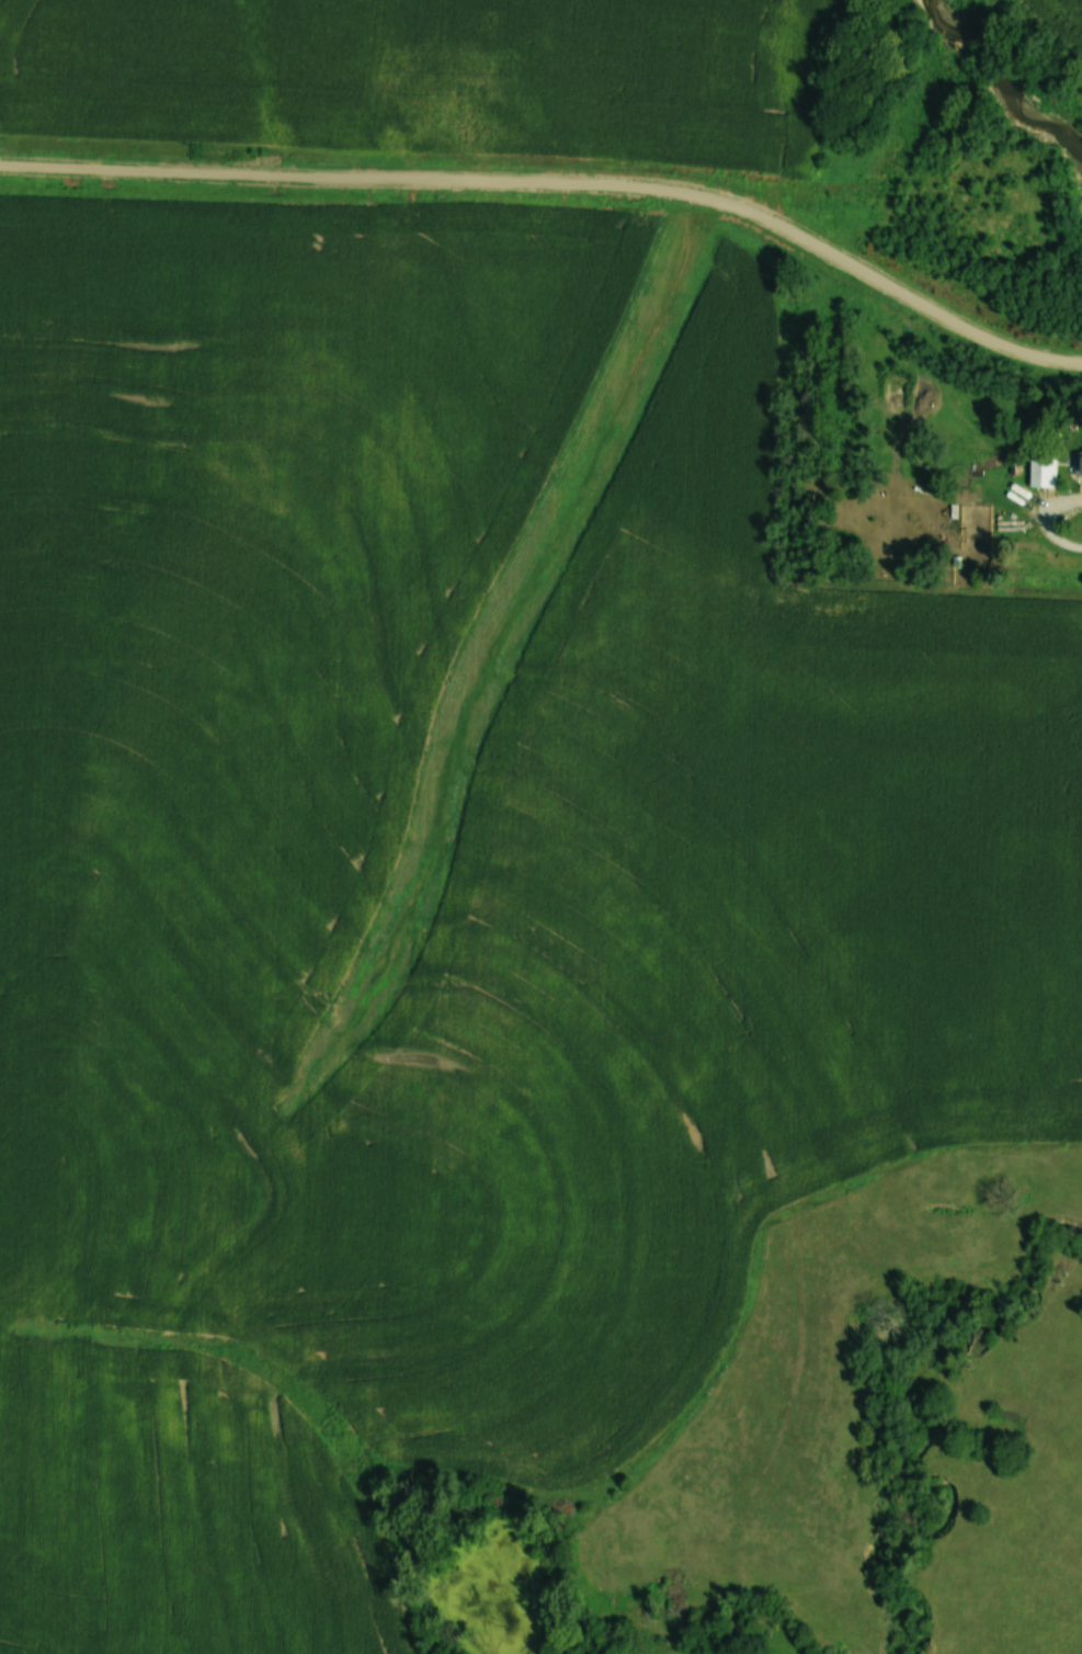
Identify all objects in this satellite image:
road: (558, 185)
building: (1077, 462)
building: (1039, 471)

